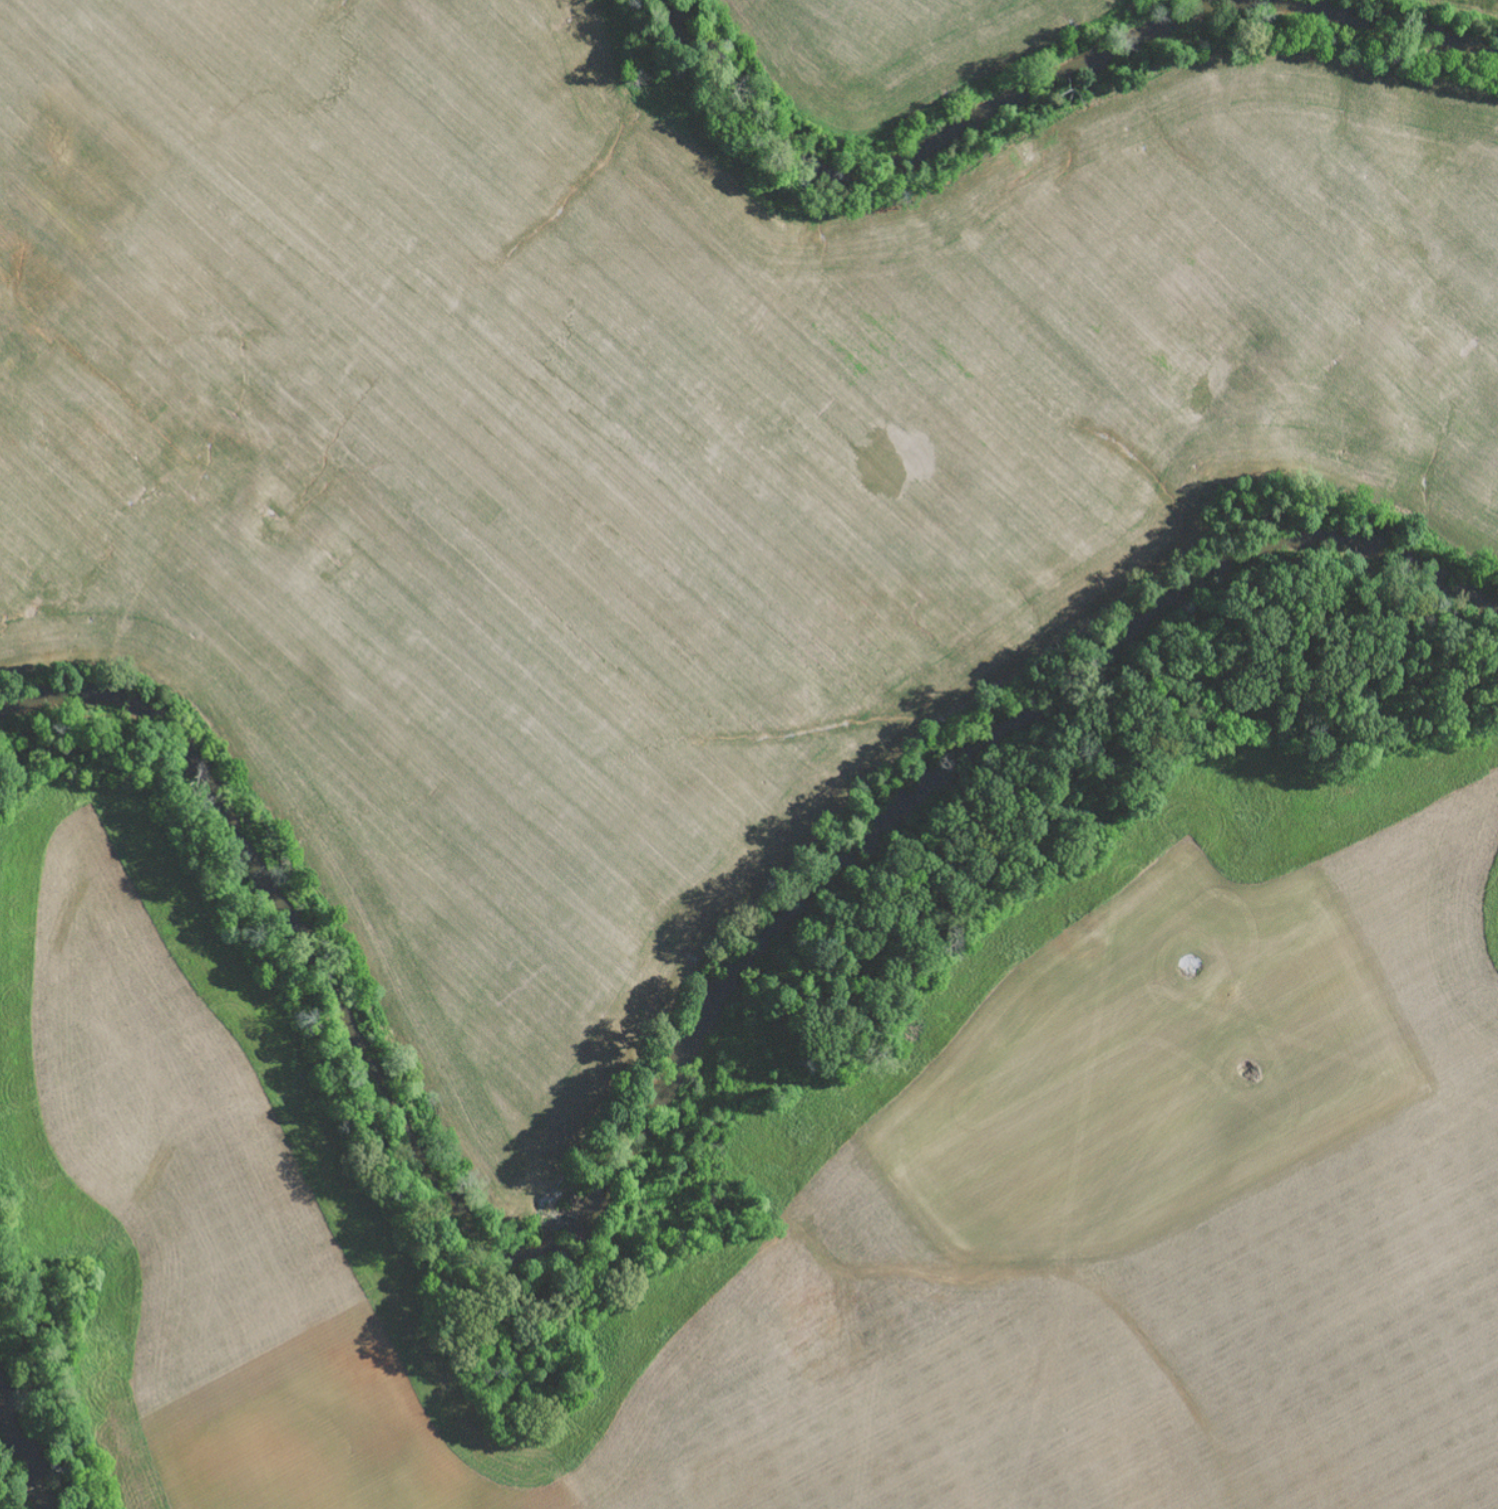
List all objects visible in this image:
road: (1223, 1467)

